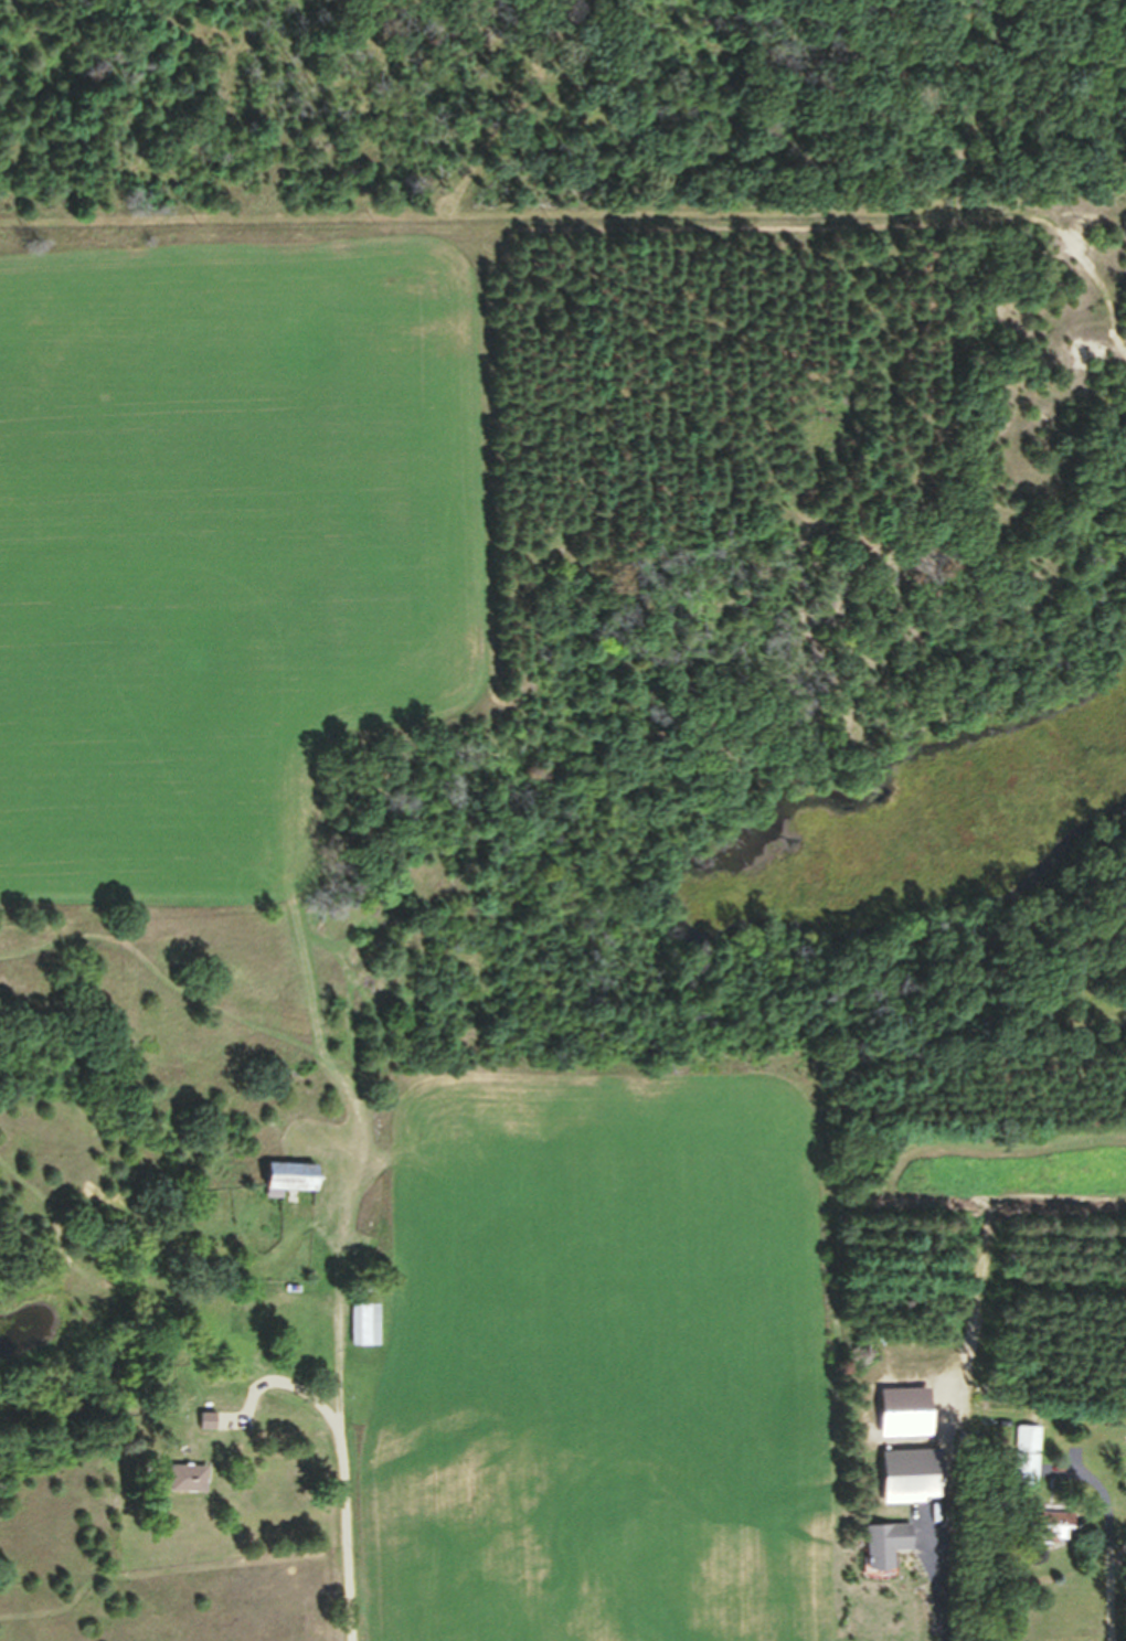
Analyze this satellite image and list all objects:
building: (301, 1187)
building: (371, 1338)
building: (211, 1431)
building: (1030, 1460)
road: (346, 1468)
building: (918, 1487)
building: (193, 1489)
building: (1061, 1533)
road: (1106, 1536)
building: (895, 1555)
road: (932, 1584)

